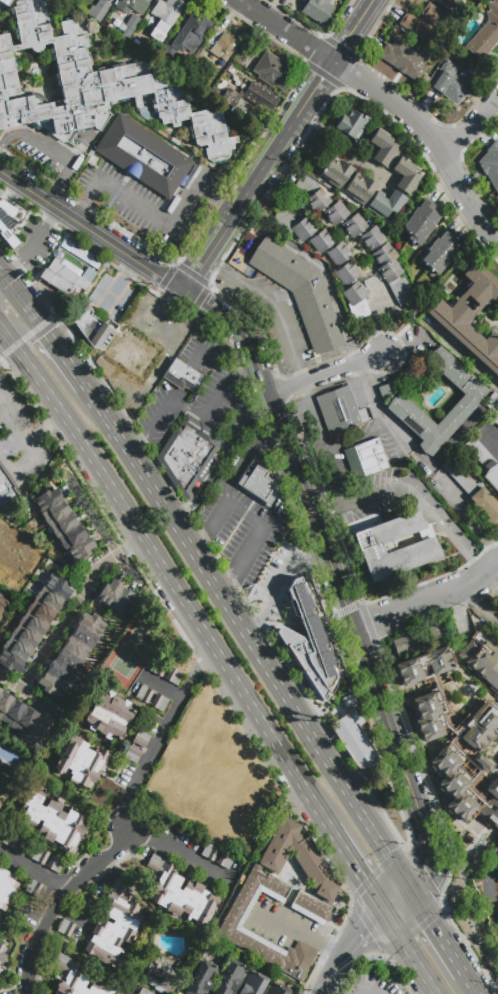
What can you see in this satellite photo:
building: (4, 1)
building: (450, 2)
building: (130, 6)
building: (318, 9)
building: (98, 10)
building: (165, 16)
road: (338, 19)
building: (426, 22)
building: (130, 25)
road: (375, 27)
road: (353, 30)
road: (287, 31)
building: (191, 33)
building: (485, 33)
building: (221, 45)
road: (339, 45)
road: (312, 49)
building: (167, 55)
road: (358, 56)
building: (405, 59)
building: (272, 70)
road: (348, 71)
road: (321, 74)
building: (453, 81)
building: (91, 86)
road: (339, 87)
building: (229, 97)
building: (260, 97)
building: (351, 123)
road: (470, 125)
road: (289, 126)
road: (430, 137)
road: (343, 142)
road: (6, 144)
building: (383, 148)
road: (40, 149)
building: (144, 158)
road: (242, 165)
building: (490, 166)
building: (335, 171)
building: (406, 176)
road: (57, 184)
road: (271, 184)
building: (359, 188)
building: (311, 193)
building: (0, 196)
road: (276, 196)
building: (386, 204)
road: (80, 206)
road: (227, 207)
road: (237, 209)
building: (336, 212)
road: (157, 217)
building: (189, 220)
building: (10, 223)
building: (420, 223)
road: (82, 225)
building: (354, 225)
road: (330, 226)
building: (303, 229)
road: (42, 232)
building: (372, 237)
building: (322, 242)
building: (77, 251)
building: (440, 253)
building: (339, 254)
road: (205, 257)
road: (13, 265)
building: (347, 272)
road: (191, 274)
building: (393, 274)
building: (67, 276)
road: (166, 278)
road: (175, 285)
road: (2, 289)
building: (300, 293)
road: (199, 299)
road: (22, 300)
road: (268, 300)
building: (357, 303)
building: (471, 315)
road: (19, 320)
road: (381, 322)
building: (93, 328)
road: (34, 330)
road: (460, 350)
road: (65, 355)
road: (245, 372)
road: (326, 373)
road: (303, 374)
building: (183, 376)
road: (230, 378)
parking lot: (218, 389)
building: (466, 402)
building: (492, 404)
road: (102, 409)
road: (164, 409)
building: (340, 410)
building: (495, 418)
road: (47, 428)
road: (368, 433)
road: (37, 450)
building: (188, 454)
parking lot: (334, 457)
road: (223, 459)
building: (365, 459)
building: (483, 461)
road: (273, 465)
road: (431, 467)
building: (259, 483)
building: (7, 489)
building: (195, 490)
building: (472, 490)
road: (306, 498)
road: (367, 500)
road: (230, 504)
road: (463, 510)
road: (319, 514)
building: (63, 525)
parking lot: (241, 528)
road: (102, 529)
road: (444, 530)
road: (200, 539)
road: (206, 541)
road: (253, 544)
building: (395, 546)
road: (313, 554)
building: (69, 568)
road: (285, 573)
road: (169, 576)
parking lot: (278, 579)
road: (230, 582)
building: (115, 598)
road: (429, 602)
building: (2, 604)
road: (73, 605)
road: (230, 607)
road: (478, 609)
building: (497, 611)
road: (262, 617)
building: (33, 623)
building: (436, 632)
building: (308, 642)
building: (407, 643)
park: (130, 651)
building: (70, 655)
building: (481, 659)
building: (422, 666)
building: (158, 667)
building: (174, 676)
road: (25, 694)
building: (144, 694)
building: (350, 700)
building: (159, 703)
building: (108, 715)
building: (428, 716)
building: (23, 719)
building: (480, 727)
road: (161, 735)
building: (141, 738)
building: (354, 738)
building: (132, 754)
road: (399, 755)
building: (80, 760)
building: (481, 763)
building: (452, 782)
building: (491, 804)
building: (53, 821)
road: (376, 833)
road: (425, 833)
building: (10, 839)
building: (495, 850)
building: (209, 852)
building: (40, 855)
road: (179, 855)
building: (224, 860)
building: (55, 864)
road: (359, 868)
road: (33, 871)
traffic signals: (426, 871)
road: (421, 872)
traffic signals: (367, 878)
building: (7, 888)
building: (33, 888)
road: (489, 888)
building: (178, 895)
building: (284, 896)
road: (398, 898)
road: (58, 901)
road: (443, 903)
building: (88, 906)
building: (20, 911)
road: (427, 912)
traffic signals: (433, 922)
road: (367, 924)
building: (114, 926)
traffic signals: (365, 926)
building: (66, 928)
road: (299, 934)
road: (402, 935)
road: (347, 945)
building: (209, 949)
building: (3, 953)
road: (455, 955)
building: (0, 969)
building: (159, 977)
road: (430, 977)
building: (200, 978)
building: (231, 978)
building: (75, 979)
building: (253, 983)
road: (473, 983)
building: (276, 989)
road: (368, 990)
road: (432, 990)
building: (144, 991)
road: (320, 993)

